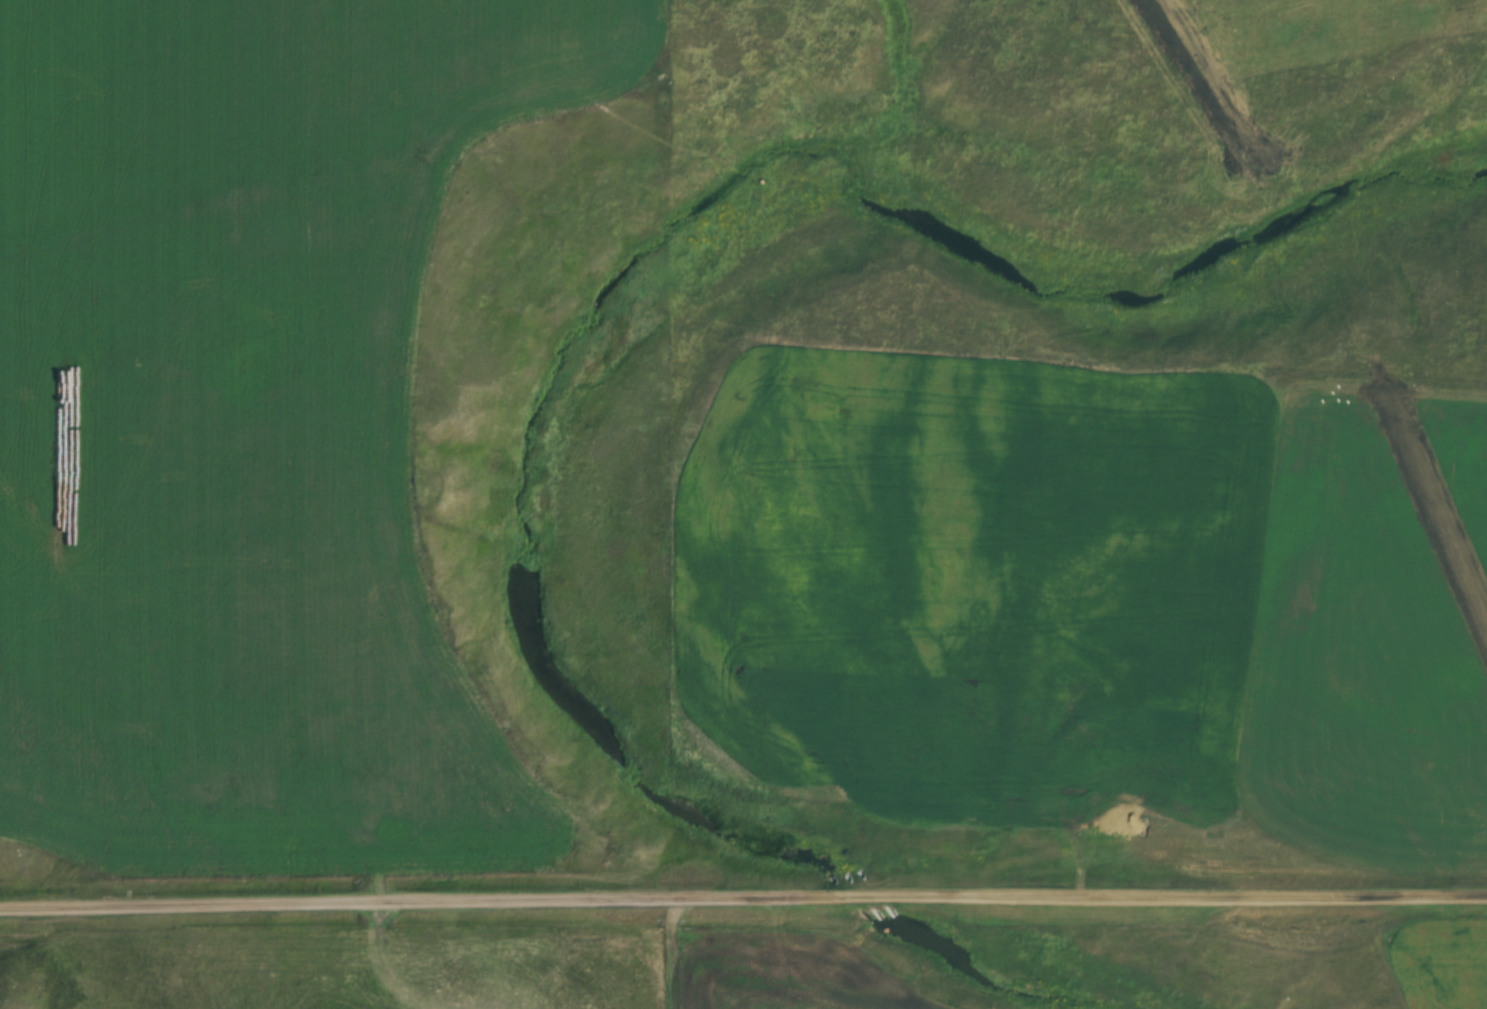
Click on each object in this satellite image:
road: (743, 905)

